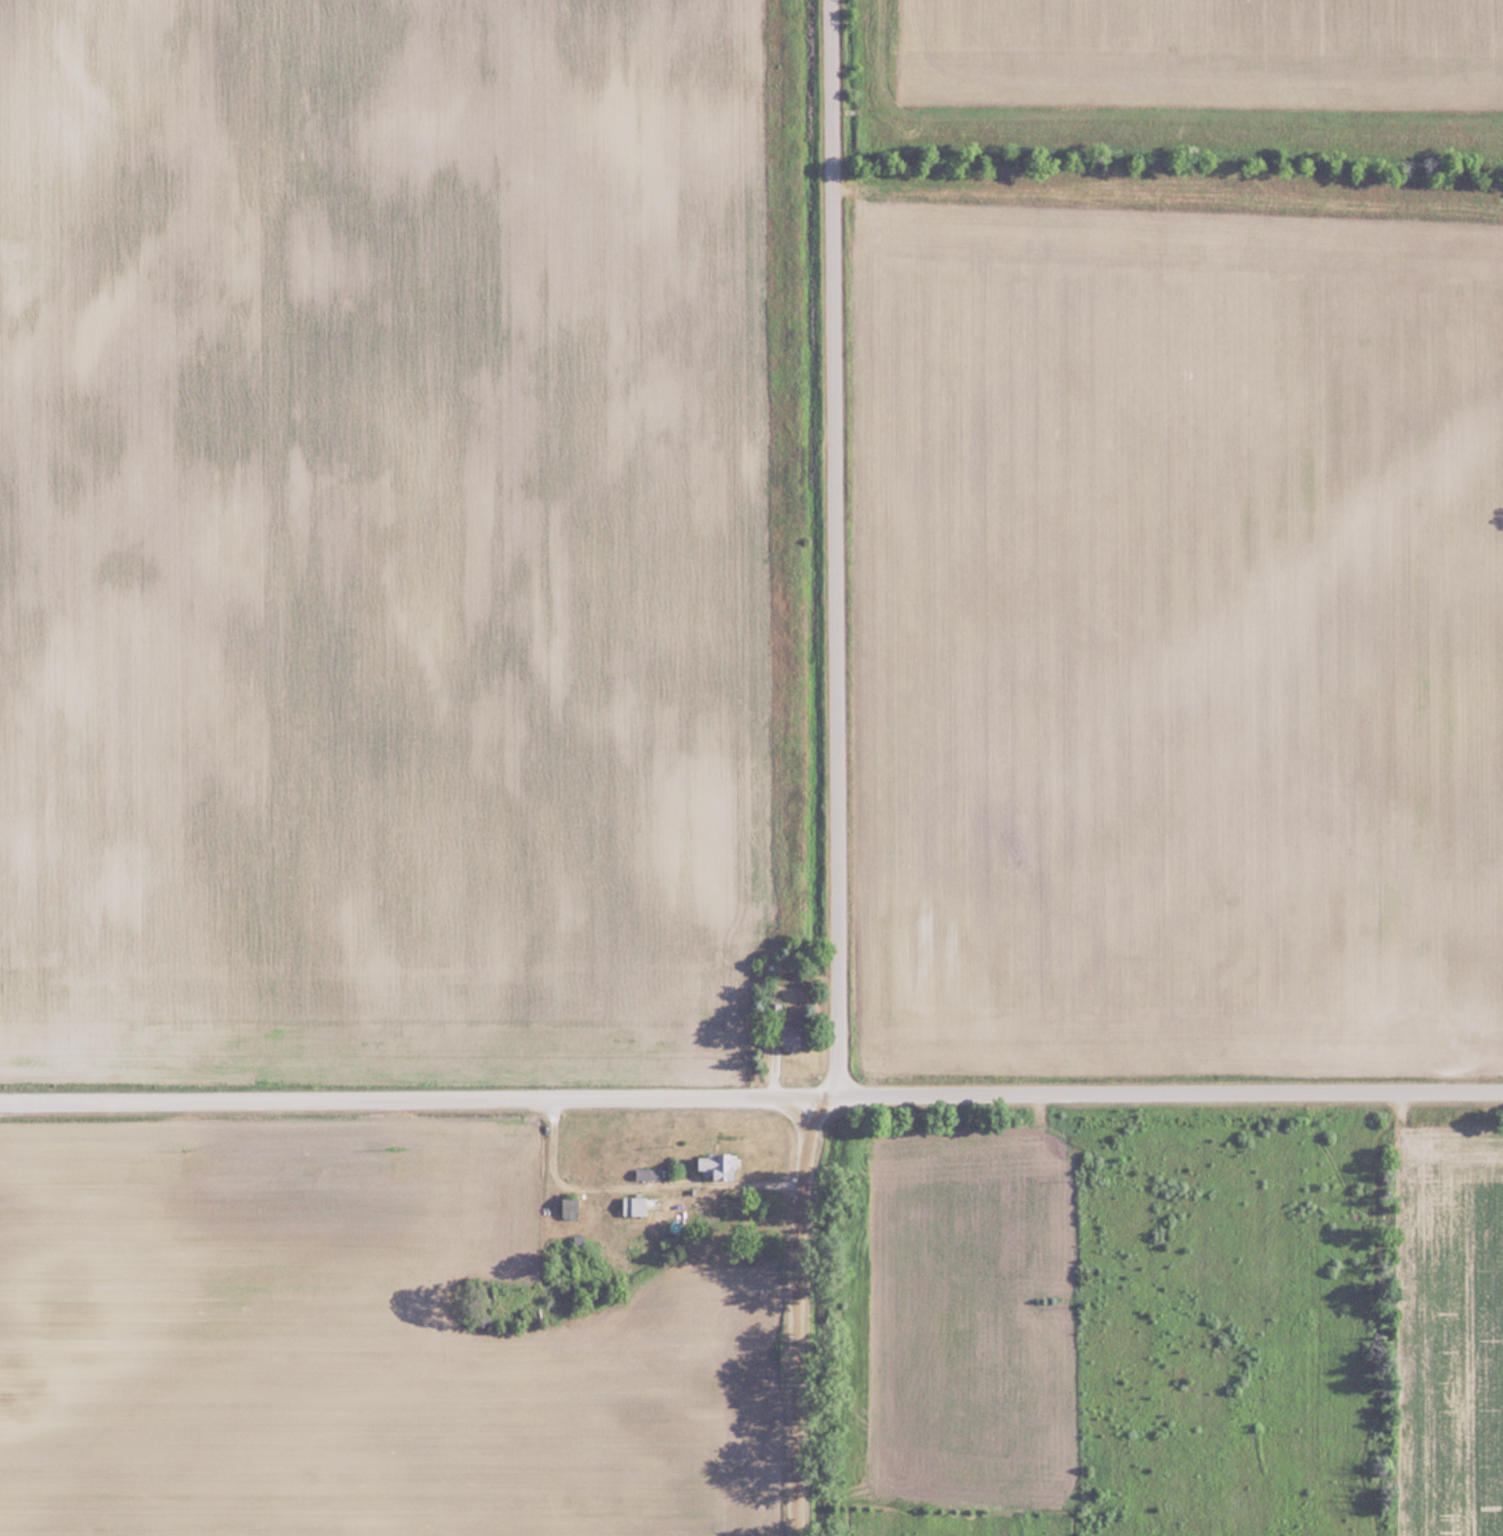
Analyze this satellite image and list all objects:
road: (836, 773)
building: (792, 1036)
road: (751, 1098)
building: (717, 1163)
building: (647, 1173)
building: (634, 1204)
building: (570, 1207)
building: (481, 1319)

